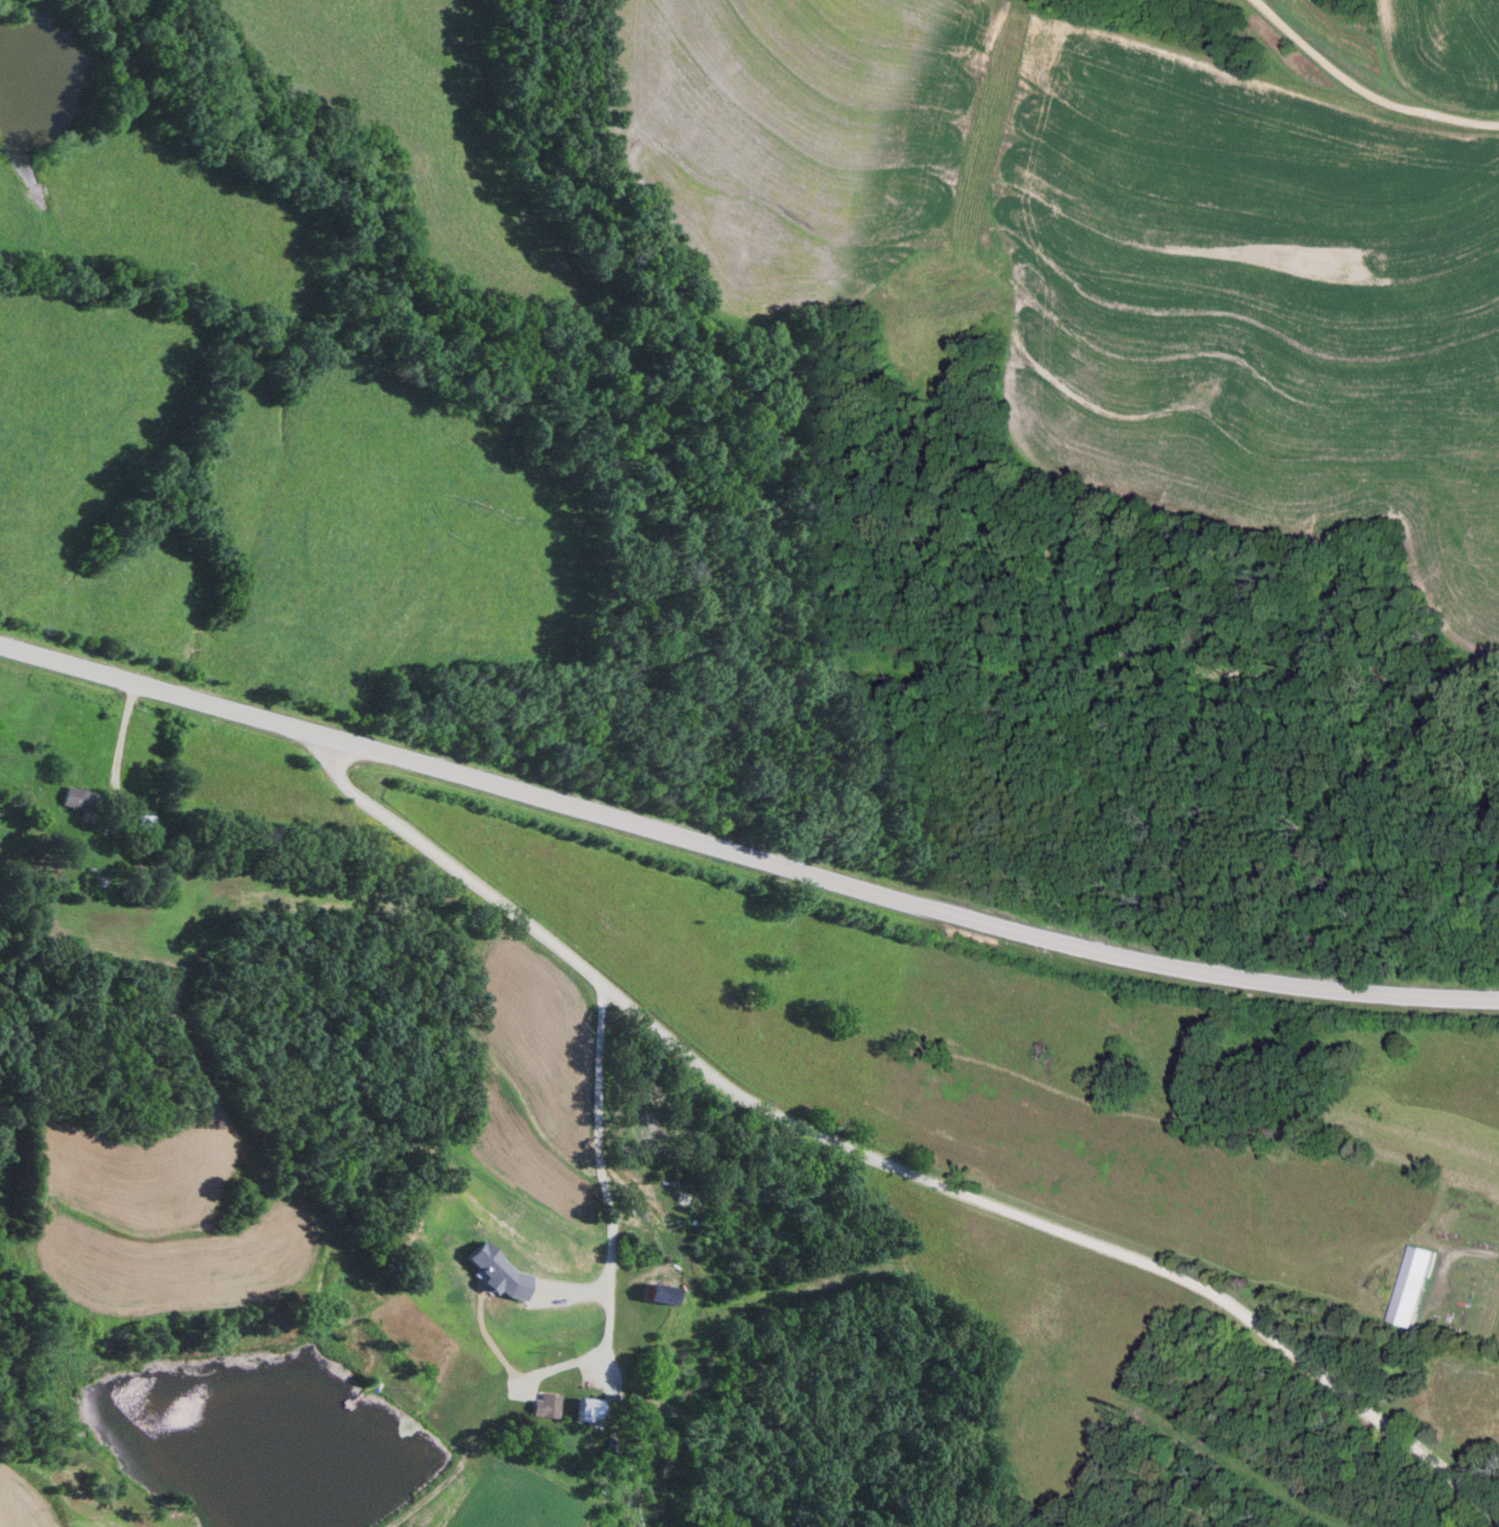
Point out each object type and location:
road: (1352, 75)
building: (78, 804)
road: (743, 854)
road: (876, 1170)
road: (595, 1180)
building: (681, 1201)
building: (1410, 1289)
building: (656, 1298)
building: (545, 1408)
building: (585, 1412)

